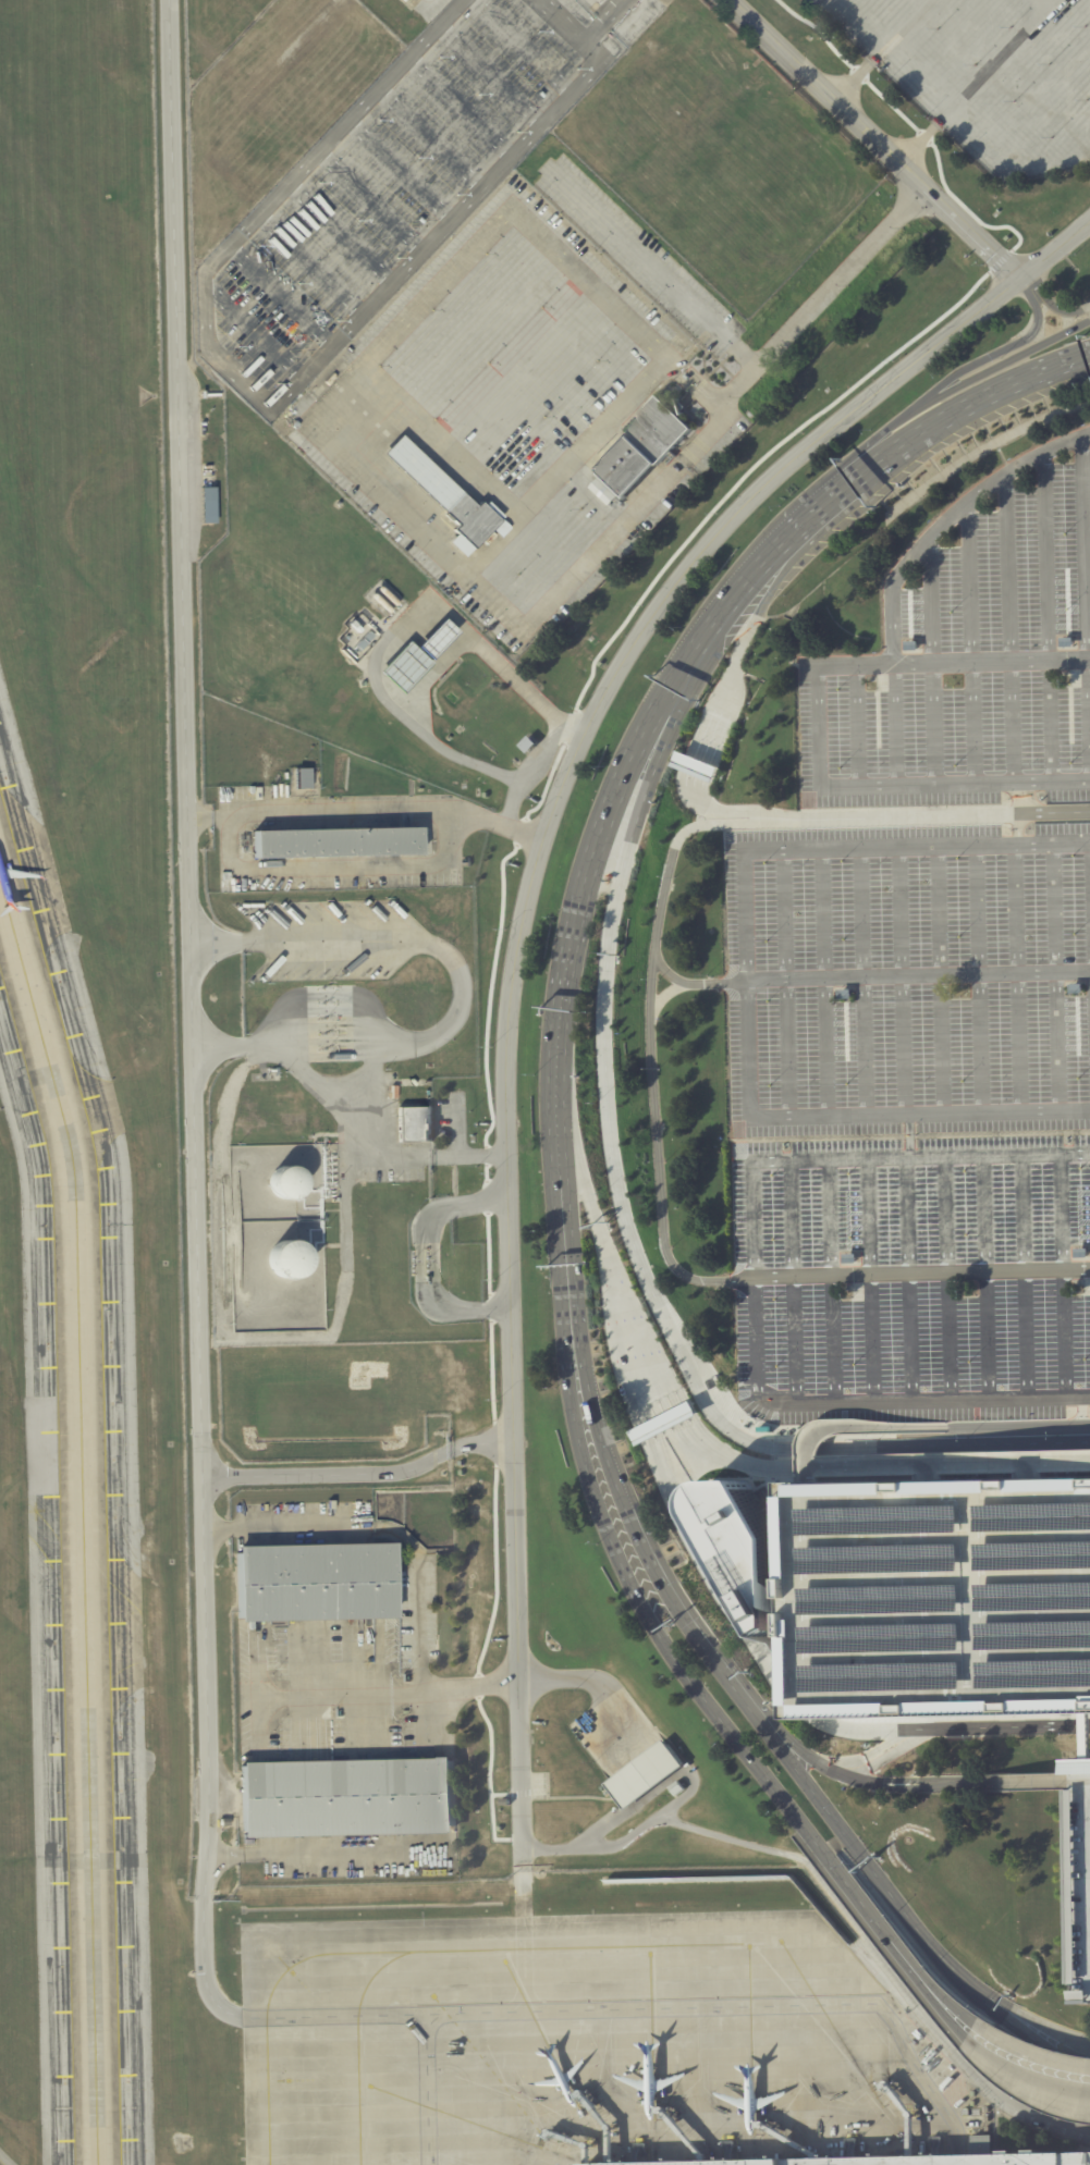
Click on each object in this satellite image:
road: (1042, 2)
road: (604, 21)
road: (522, 45)
road: (882, 48)
road: (488, 76)
road: (975, 79)
road: (457, 108)
road: (911, 124)
road: (429, 137)
road: (875, 137)
road: (400, 170)
parking lot: (387, 186)
road: (370, 200)
road: (338, 234)
road: (1054, 249)
road: (1000, 260)
road: (308, 266)
road: (1024, 280)
road: (282, 294)
road: (1055, 307)
road: (406, 320)
road: (253, 332)
road: (738, 350)
road: (996, 353)
road: (1007, 360)
building: (342, 368)
building: (332, 379)
building: (321, 391)
road: (979, 399)
road: (278, 402)
road: (881, 434)
building: (641, 451)
road: (870, 475)
road: (850, 489)
building: (451, 499)
building: (207, 504)
road: (811, 518)
road: (948, 519)
road: (820, 532)
road: (578, 564)
road: (743, 586)
road: (1085, 608)
road: (1046, 617)
road: (1008, 628)
building: (434, 638)
road: (383, 639)
building: (359, 640)
road: (969, 642)
road: (688, 662)
road: (930, 662)
road: (952, 662)
building: (403, 666)
parking lot: (972, 667)
road: (425, 678)
building: (1066, 678)
road: (730, 679)
building: (873, 682)
railway: (230, 724)
road: (894, 724)
road: (857, 725)
building: (528, 745)
road: (542, 752)
building: (696, 766)
road: (697, 766)
toll booth: (697, 768)
building: (302, 777)
road: (897, 783)
building: (486, 795)
road: (378, 807)
road: (733, 810)
road: (942, 815)
road: (199, 819)
road: (734, 821)
building: (335, 841)
road: (785, 852)
road: (336, 866)
road: (579, 893)
road: (610, 933)
road: (445, 951)
road: (492, 975)
road: (511, 977)
road: (1058, 979)
road: (909, 980)
road: (981, 980)
road: (1019, 980)
road: (904, 981)
road: (943, 981)
road: (681, 982)
road: (866, 982)
road: (793, 983)
road: (826, 983)
building: (1074, 989)
building: (842, 994)
road: (217, 1041)
airport: (544, 1082)
road: (651, 1085)
road: (920, 1112)
parking lot: (910, 1119)
building: (413, 1123)
road: (360, 1124)
building: (284, 1180)
storage tank: (284, 1180)
road: (559, 1220)
building: (1081, 1252)
road: (426, 1256)
building: (849, 1257)
building: (291, 1260)
storage tank: (291, 1260)
road: (610, 1266)
road: (1066, 1276)
road: (990, 1277)
road: (1028, 1277)
road: (755, 1278)
road: (911, 1278)
road: (911, 1279)
road: (948, 1279)
road: (872, 1280)
road: (793, 1281)
road: (834, 1281)
road: (650, 1354)
road: (580, 1378)
road: (1082, 1411)
road: (681, 1413)
toll booth: (681, 1413)
road: (199, 1420)
building: (662, 1423)
road: (852, 1424)
road: (1018, 1426)
road: (647, 1430)
toll booth: (647, 1430)
road: (771, 1444)
road: (734, 1459)
road: (948, 1460)
road: (942, 1462)
road: (611, 1469)
road: (1034, 1469)
road: (1034, 1471)
road: (931, 1472)
road: (359, 1473)
road: (930, 1473)
road: (807, 1475)
building: (776, 1477)
airport taxiway: (82, 1518)
road: (215, 1528)
building: (737, 1538)
road: (711, 1572)
road: (411, 1576)
road: (662, 1576)
building: (313, 1580)
building: (938, 1597)
parking garage: (938, 1597)
road: (638, 1601)
road: (591, 1683)
road: (377, 1688)
road: (255, 1692)
road: (339, 1694)
road: (760, 1706)
road: (798, 1707)
road: (951, 1726)
road: (856, 1729)
road: (781, 1752)
building: (644, 1773)
road: (1081, 1781)
road: (945, 1785)
building: (676, 1788)
building: (352, 1797)
road: (549, 1797)
building: (502, 1803)
building: (228, 1821)
road: (321, 1850)
building: (1081, 1877)
parking lot: (1081, 1877)
road: (520, 1894)
road: (915, 1927)
road: (885, 1931)
airport taxiway: (421, 1953)
road: (1029, 2019)
road: (1026, 2035)
airport apron: (583, 2044)
road: (1026, 2053)
road: (1018, 2075)
road: (428, 2089)
airport terminal: (890, 2160)
building: (890, 2160)

